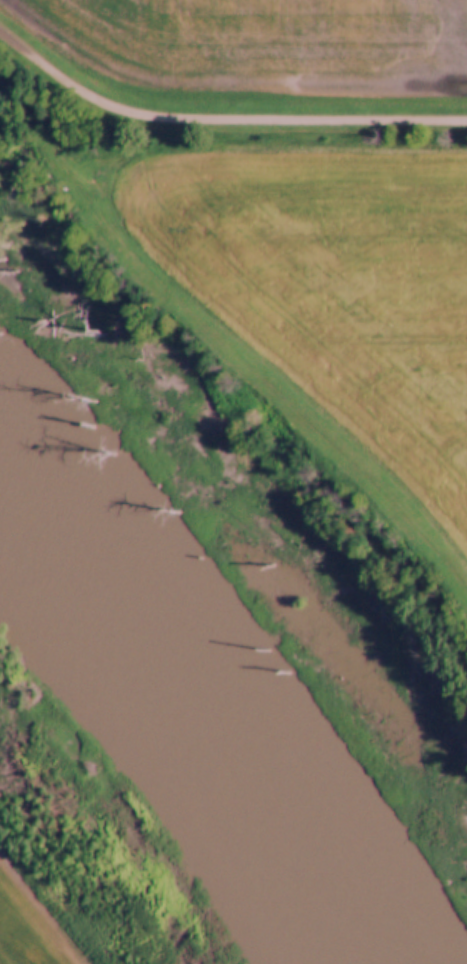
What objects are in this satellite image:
road: (222, 117)
river: (175, 742)

